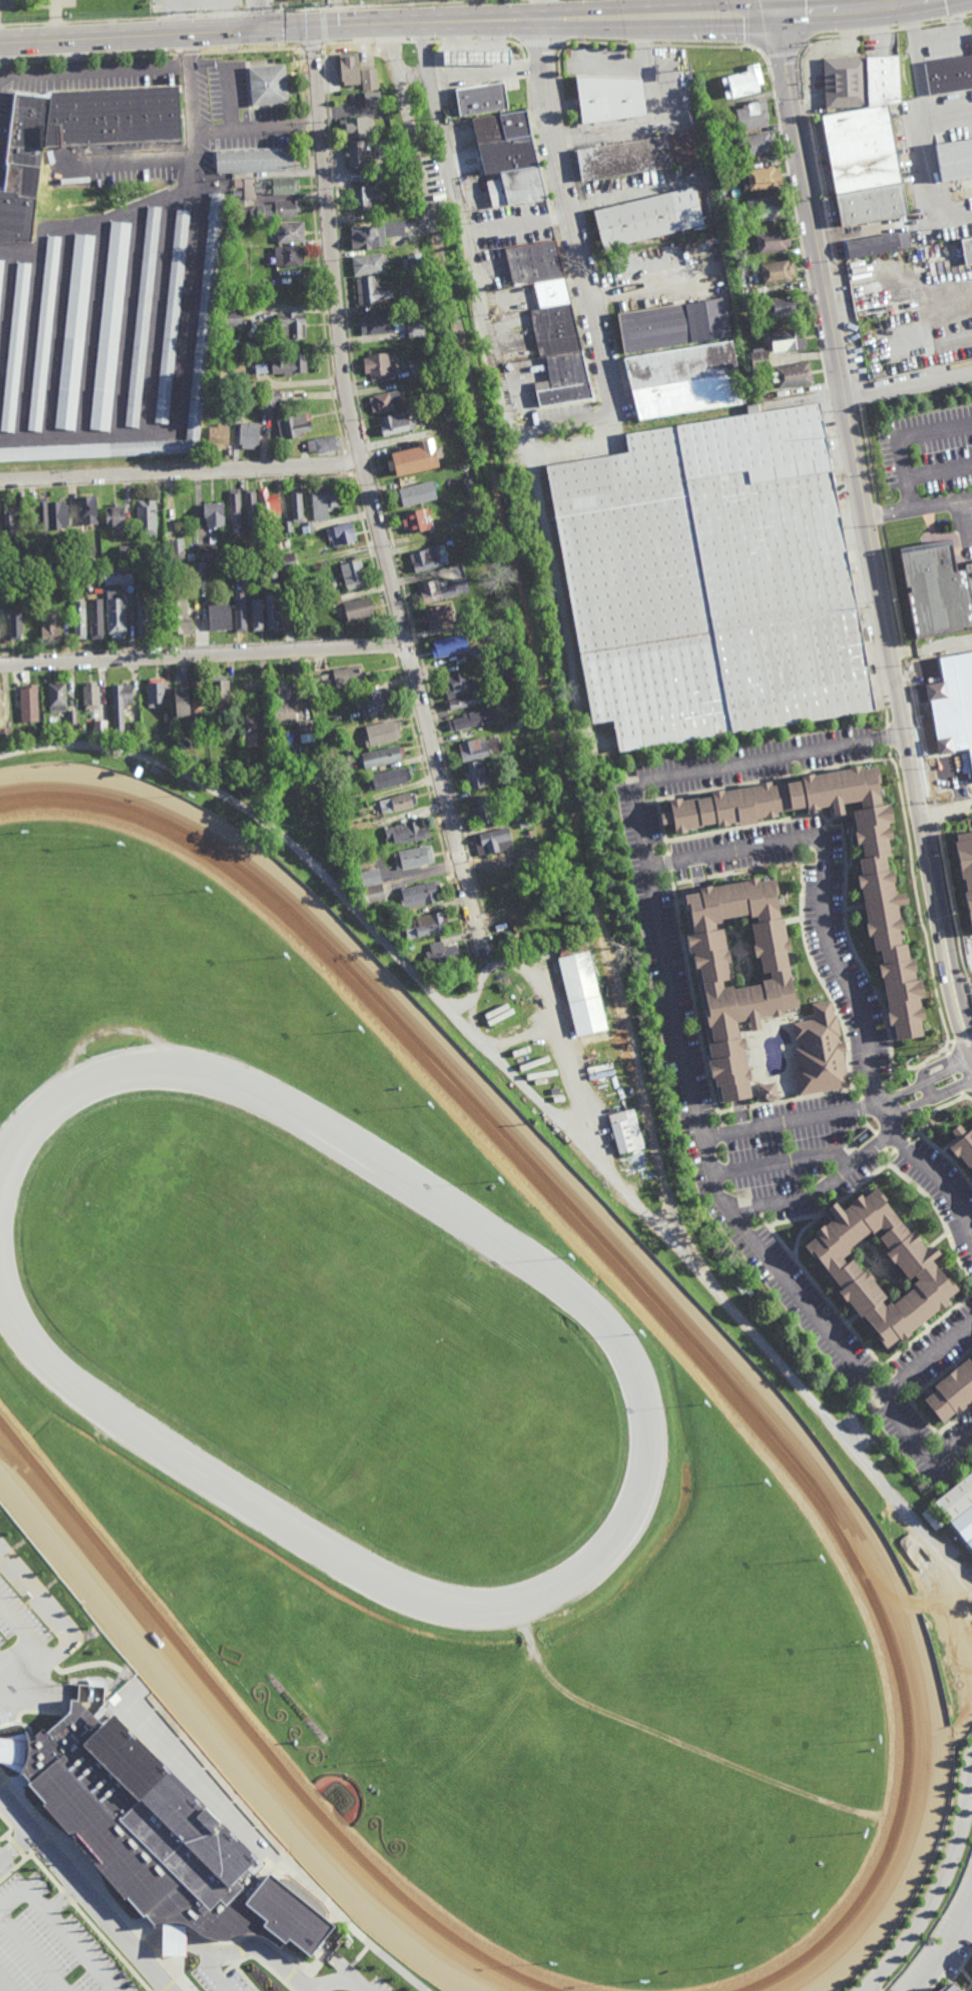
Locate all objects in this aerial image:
power tower: (457, 0)
power tower: (318, 9)
road: (545, 9)
road: (633, 9)
power tower: (199, 12)
road: (848, 13)
road: (256, 15)
power tower: (66, 19)
traffic signals: (772, 19)
road: (385, 24)
traffic signals: (308, 28)
road: (884, 31)
road: (463, 41)
road: (512, 41)
road: (390, 42)
road: (411, 42)
road: (540, 43)
road: (594, 43)
road: (642, 45)
road: (710, 47)
road: (2, 55)
road: (73, 56)
building: (473, 56)
road: (782, 56)
building: (350, 68)
road: (486, 68)
road: (109, 70)
building: (949, 74)
building: (590, 77)
building: (370, 80)
building: (859, 80)
building: (743, 81)
building: (268, 84)
building: (477, 90)
building: (611, 98)
building: (373, 99)
road: (921, 105)
building: (463, 110)
building: (751, 115)
road: (245, 126)
building: (356, 127)
road: (409, 127)
road: (211, 130)
building: (75, 138)
building: (756, 144)
building: (684, 148)
building: (358, 154)
road: (171, 157)
building: (623, 158)
building: (507, 159)
building: (255, 160)
building: (954, 160)
building: (863, 165)
building: (722, 174)
building: (761, 178)
building: (283, 186)
building: (245, 193)
road: (628, 193)
building: (364, 199)
building: (764, 207)
building: (277, 210)
building: (648, 218)
road: (828, 218)
road: (949, 218)
road: (520, 223)
building: (411, 225)
building: (292, 233)
road: (859, 233)
building: (365, 238)
building: (771, 241)
building: (872, 245)
building: (967, 250)
building: (291, 256)
building: (368, 265)
building: (776, 270)
building: (1, 271)
building: (270, 280)
building: (371, 291)
building: (746, 300)
building: (779, 303)
building: (144, 316)
building: (172, 316)
building: (205, 317)
building: (230, 317)
building: (551, 322)
building: (672, 322)
building: (293, 323)
building: (379, 323)
building: (111, 326)
building: (416, 329)
building: (74, 331)
building: (44, 333)
building: (786, 335)
building: (15, 347)
building: (758, 357)
building: (288, 362)
building: (379, 364)
building: (417, 367)
building: (791, 372)
building: (683, 377)
road: (907, 383)
building: (449, 393)
road: (860, 395)
building: (270, 400)
building: (385, 401)
building: (239, 407)
building: (395, 422)
building: (293, 425)
road: (555, 425)
building: (248, 434)
building: (218, 435)
road: (901, 437)
building: (324, 443)
building: (415, 457)
road: (869, 457)
road: (531, 458)
road: (939, 470)
road: (180, 472)
building: (470, 484)
building: (416, 493)
road: (368, 496)
building: (323, 501)
building: (269, 503)
road: (942, 503)
building: (296, 504)
building: (251, 506)
building: (86, 508)
building: (235, 508)
building: (428, 511)
road: (889, 513)
building: (58, 514)
building: (214, 514)
road: (879, 514)
building: (146, 515)
building: (114, 516)
building: (41, 517)
building: (471, 517)
building: (12, 519)
building: (415, 520)
building: (287, 526)
building: (343, 534)
road: (869, 537)
building: (478, 541)
building: (285, 543)
building: (278, 545)
building: (76, 546)
building: (208, 550)
building: (175, 551)
building: (252, 551)
building: (191, 556)
building: (427, 557)
building: (97, 559)
building: (139, 561)
building: (286, 562)
building: (198, 569)
building: (270, 569)
building: (91, 574)
building: (117, 574)
building: (353, 574)
building: (49, 575)
building: (247, 578)
building: (712, 580)
road: (891, 583)
building: (332, 587)
building: (440, 589)
building: (936, 592)
building: (359, 608)
building: (240, 611)
building: (273, 611)
building: (2, 612)
building: (257, 614)
building: (180, 615)
building: (436, 615)
building: (116, 616)
building: (220, 616)
building: (79, 618)
building: (96, 618)
building: (142, 618)
building: (468, 621)
building: (15, 623)
road: (529, 625)
building: (51, 626)
building: (447, 645)
building: (476, 651)
road: (904, 652)
road: (203, 653)
building: (340, 678)
building: (456, 684)
building: (219, 689)
building: (155, 691)
building: (196, 694)
building: (57, 695)
building: (90, 695)
building: (24, 698)
building: (180, 699)
building: (374, 701)
building: (462, 701)
building: (0, 704)
building: (284, 705)
building: (120, 706)
building: (72, 716)
building: (473, 719)
building: (947, 719)
building: (507, 726)
building: (100, 728)
building: (211, 729)
road: (918, 729)
building: (305, 730)
building: (16, 731)
building: (190, 731)
building: (136, 732)
building: (249, 732)
building: (381, 732)
building: (5, 735)
building: (156, 737)
building: (328, 737)
building: (477, 748)
building: (382, 756)
building: (137, 771)
building: (476, 774)
building: (389, 778)
building: (516, 779)
building: (505, 791)
building: (334, 793)
building: (396, 802)
road: (946, 805)
road: (932, 807)
building: (484, 809)
building: (341, 813)
building: (525, 821)
building: (403, 833)
building: (528, 833)
building: (493, 842)
building: (352, 850)
building: (532, 855)
building: (412, 858)
building: (966, 870)
building: (365, 874)
building: (371, 894)
building: (419, 894)
building: (505, 899)
building: (884, 905)
building: (529, 908)
road: (952, 912)
building: (426, 925)
building: (384, 927)
building: (408, 947)
building: (440, 955)
road: (838, 967)
building: (749, 992)
building: (582, 993)
road: (789, 1011)
road: (682, 1050)
building: (820, 1053)
road: (755, 1056)
building: (768, 1093)
road: (968, 1098)
road: (547, 1113)
road: (839, 1116)
building: (626, 1131)
road: (653, 1135)
building: (963, 1147)
road: (779, 1161)
road: (821, 1187)
building: (918, 1269)
track: (28, 1340)
road: (926, 1362)
track: (715, 1365)
building: (952, 1394)
building: (949, 1502)
building: (962, 1534)
parking lot: (17, 1625)
road: (63, 1629)
road: (25, 1632)
road: (7, 1670)
track: (250, 1739)
road: (6, 1776)
road: (9, 1823)
building: (162, 1836)
road: (9, 1837)
road: (3, 1838)
road: (43, 1841)
road: (16, 1845)
road: (16, 1846)
road: (25, 1855)
road: (81, 1864)
road: (18, 1867)
road: (938, 1886)
road: (87, 1891)
road: (40, 1903)
road: (178, 1941)
parking lot: (50, 1942)
road: (160, 1942)
road: (254, 1947)
road: (147, 1948)
road: (945, 1949)
road: (79, 1950)
road: (251, 1956)
road: (172, 1967)
road: (214, 1973)
road: (335, 1979)
parking lot: (221, 1980)
parking lot: (371, 1985)
building: (951, 1988)
road: (308, 1990)
road: (869, 1990)

